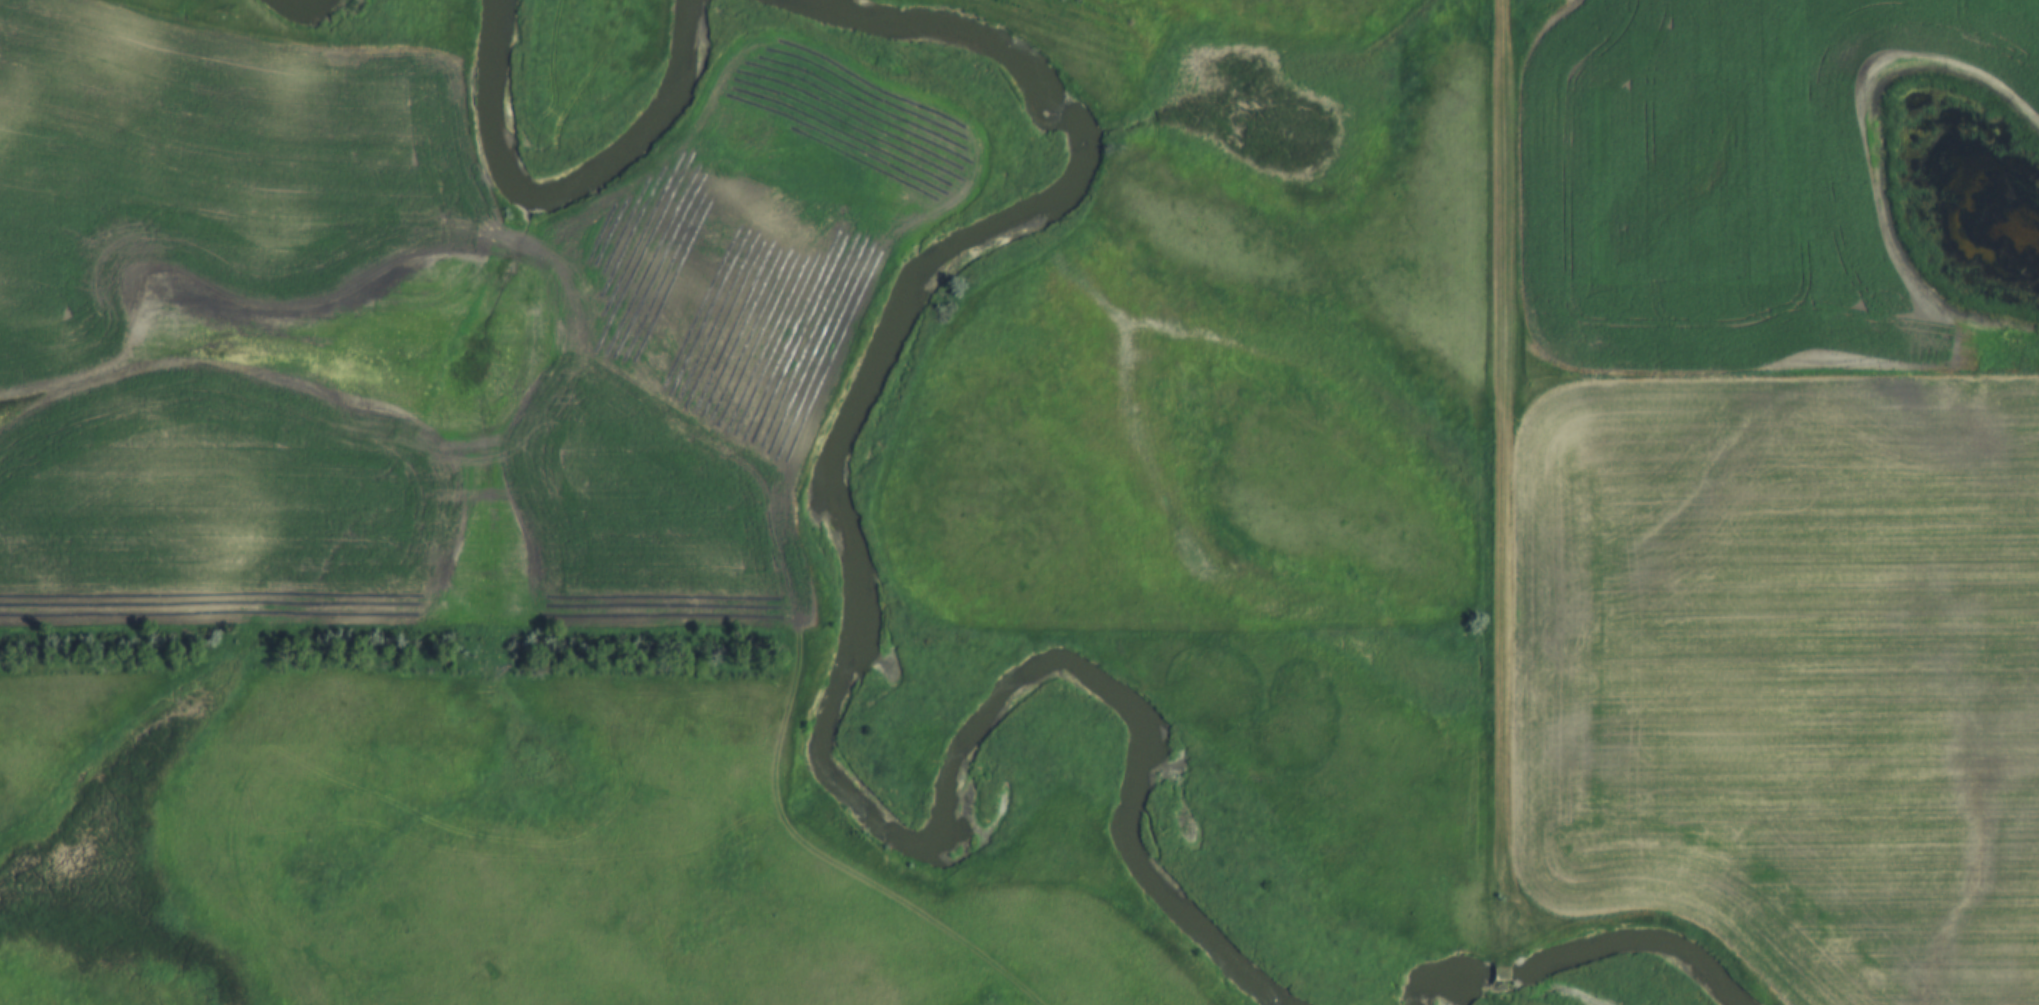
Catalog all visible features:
river: (580, 183)
road: (1509, 487)
river: (855, 646)
river: (1623, 951)
road: (1501, 982)
river: (1481, 987)
road: (1502, 997)

